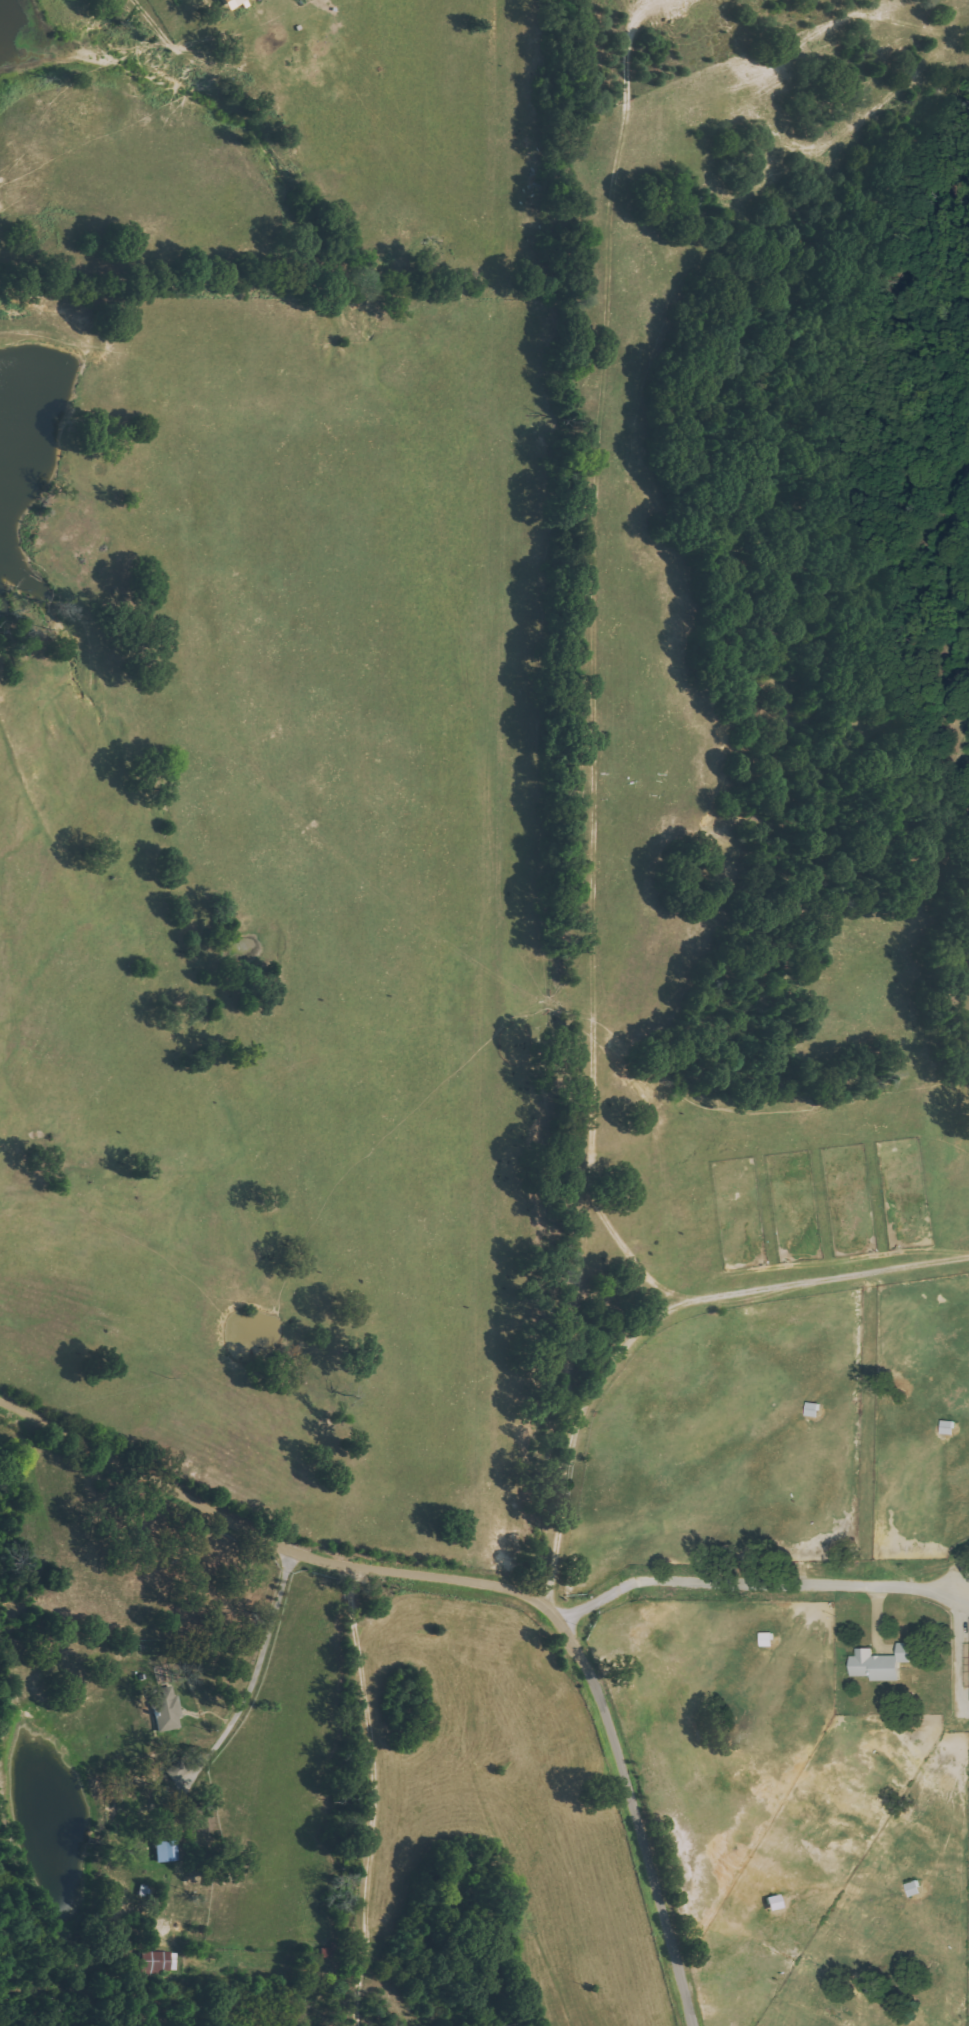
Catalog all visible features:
building: (231, 3)
road: (657, 1318)
road: (479, 1583)
road: (717, 1583)
building: (767, 1640)
building: (881, 1664)
building: (165, 1708)
building: (166, 1852)
building: (158, 1962)

